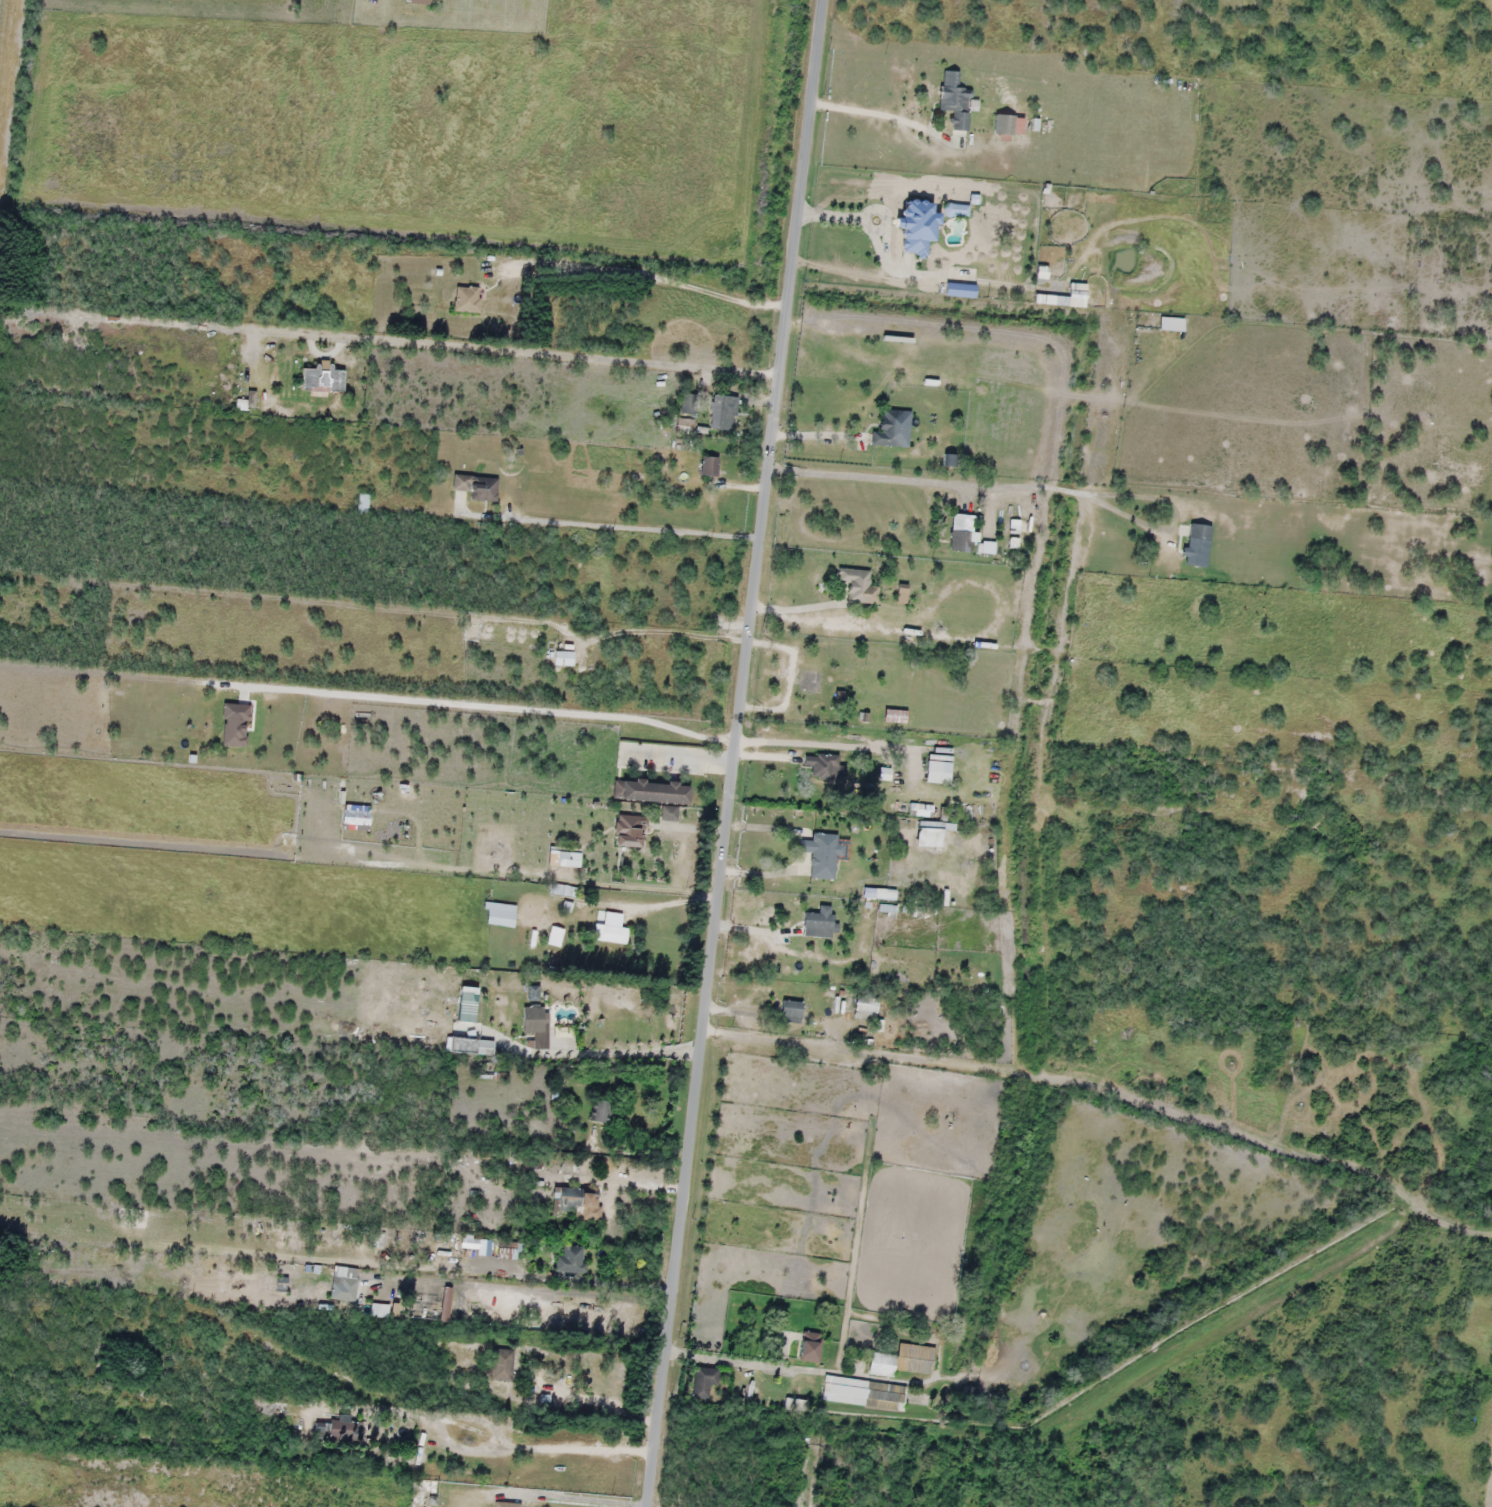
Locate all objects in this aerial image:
building: (954, 100)
building: (1003, 125)
building: (916, 225)
building: (1070, 298)
building: (466, 300)
building: (1171, 323)
building: (321, 379)
building: (688, 404)
building: (722, 412)
building: (685, 426)
building: (889, 429)
building: (709, 466)
building: (477, 486)
building: (362, 503)
building: (961, 533)
building: (1197, 545)
building: (853, 584)
building: (810, 681)
road: (741, 753)
building: (820, 765)
building: (937, 771)
building: (927, 812)
building: (668, 813)
building: (628, 830)
building: (928, 837)
building: (820, 854)
building: (563, 859)
building: (561, 890)
building: (819, 922)
building: (610, 933)
building: (555, 936)
building: (865, 1004)
building: (790, 1011)
building: (535, 1025)
building: (483, 1047)
road: (941, 1101)
building: (602, 1111)
building: (485, 1157)
building: (574, 1200)
road: (617, 1278)
building: (221, 1281)
building: (343, 1288)
building: (809, 1347)
building: (902, 1360)
building: (501, 1365)
building: (704, 1381)
building: (864, 1393)
building: (329, 1429)
building: (506, 1505)

